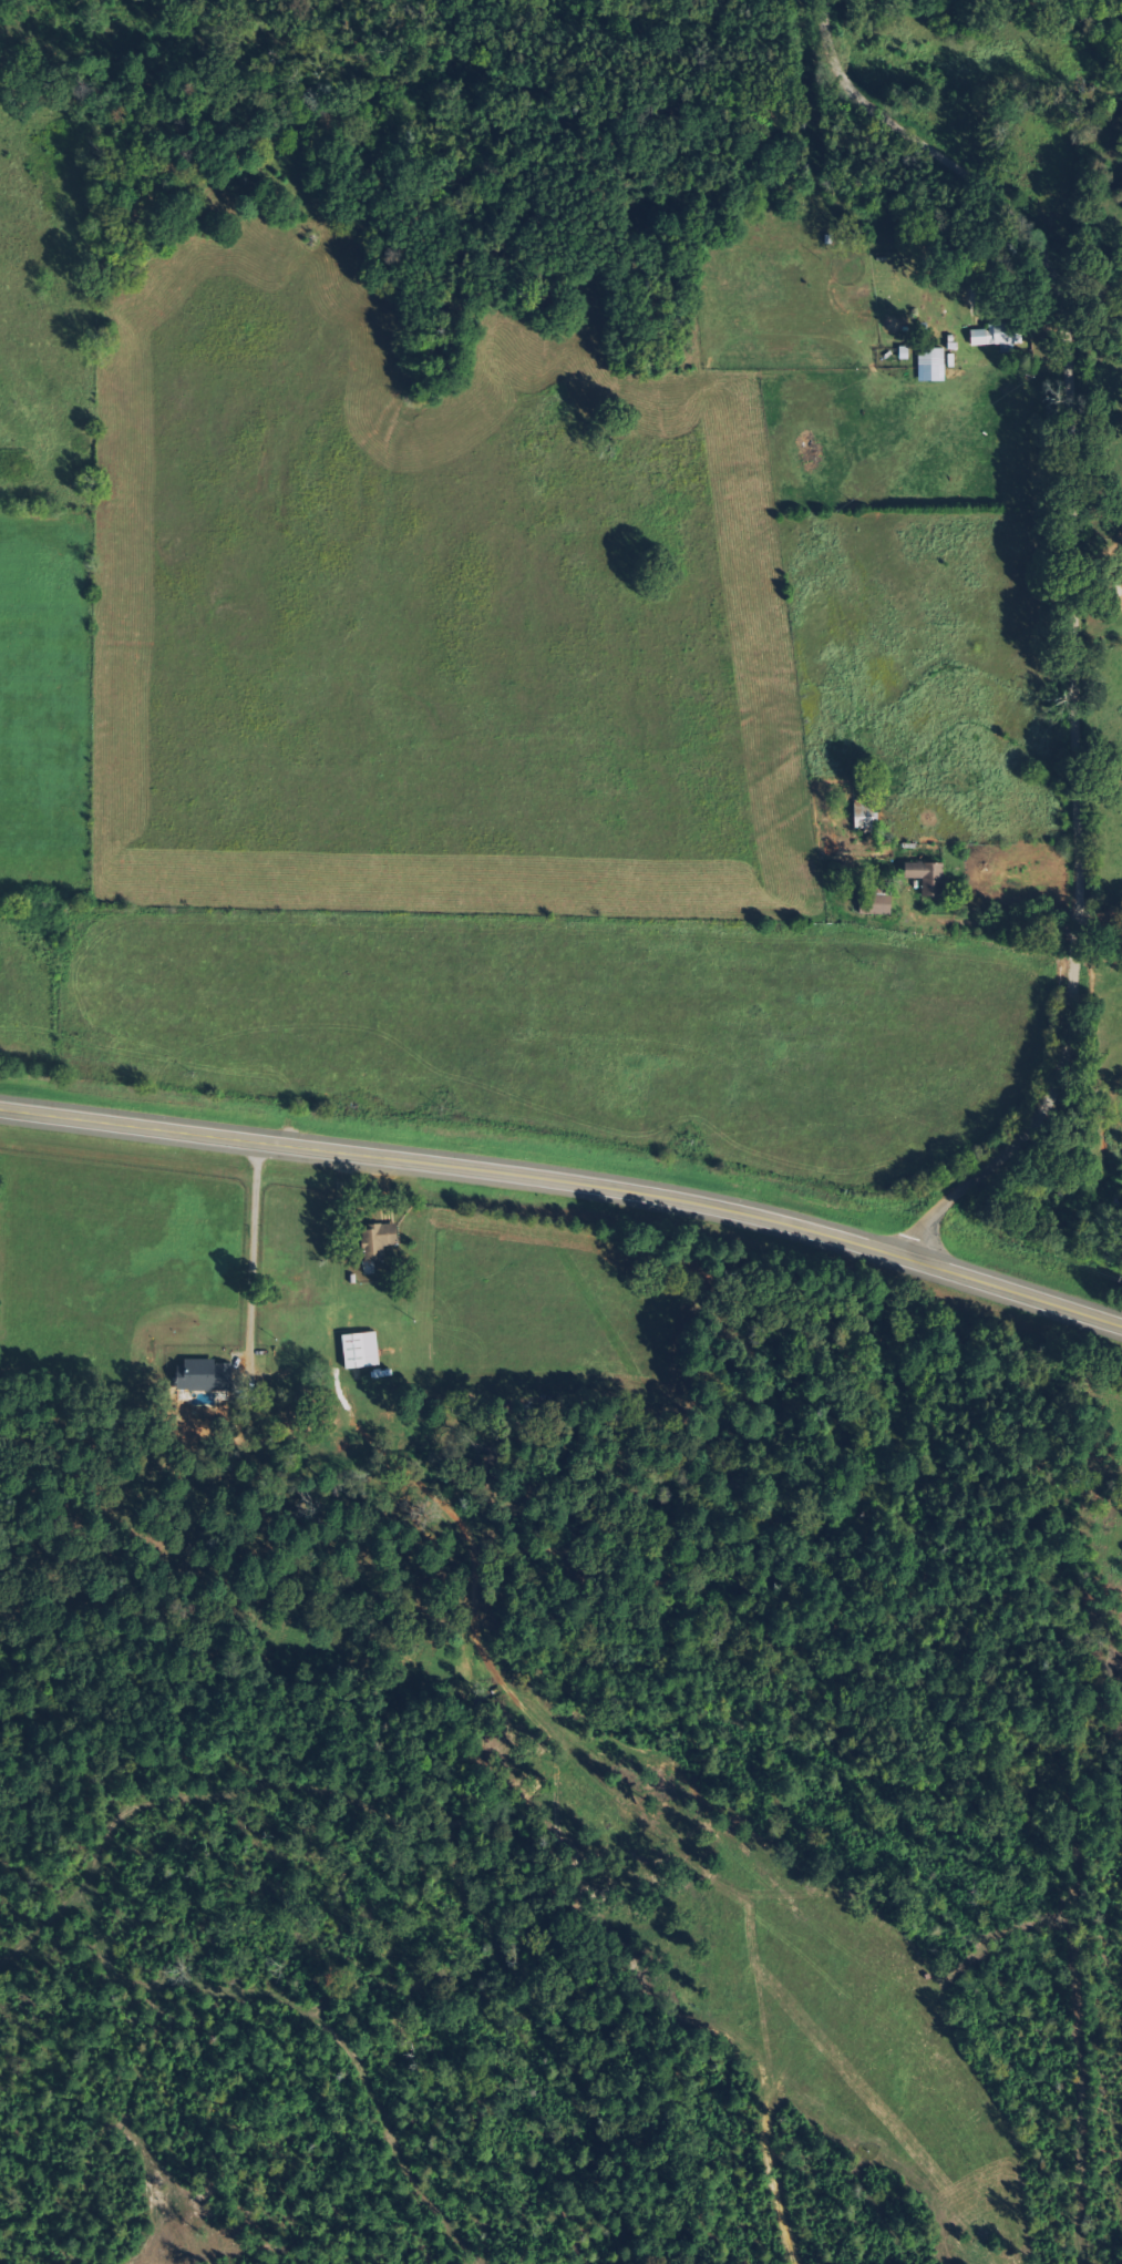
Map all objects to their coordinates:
building: (926, 365)
road: (1050, 606)
road: (1089, 864)
building: (924, 877)
building: (871, 902)
road: (567, 1181)
building: (379, 1239)
road: (251, 1254)
building: (362, 1349)
building: (205, 1374)

